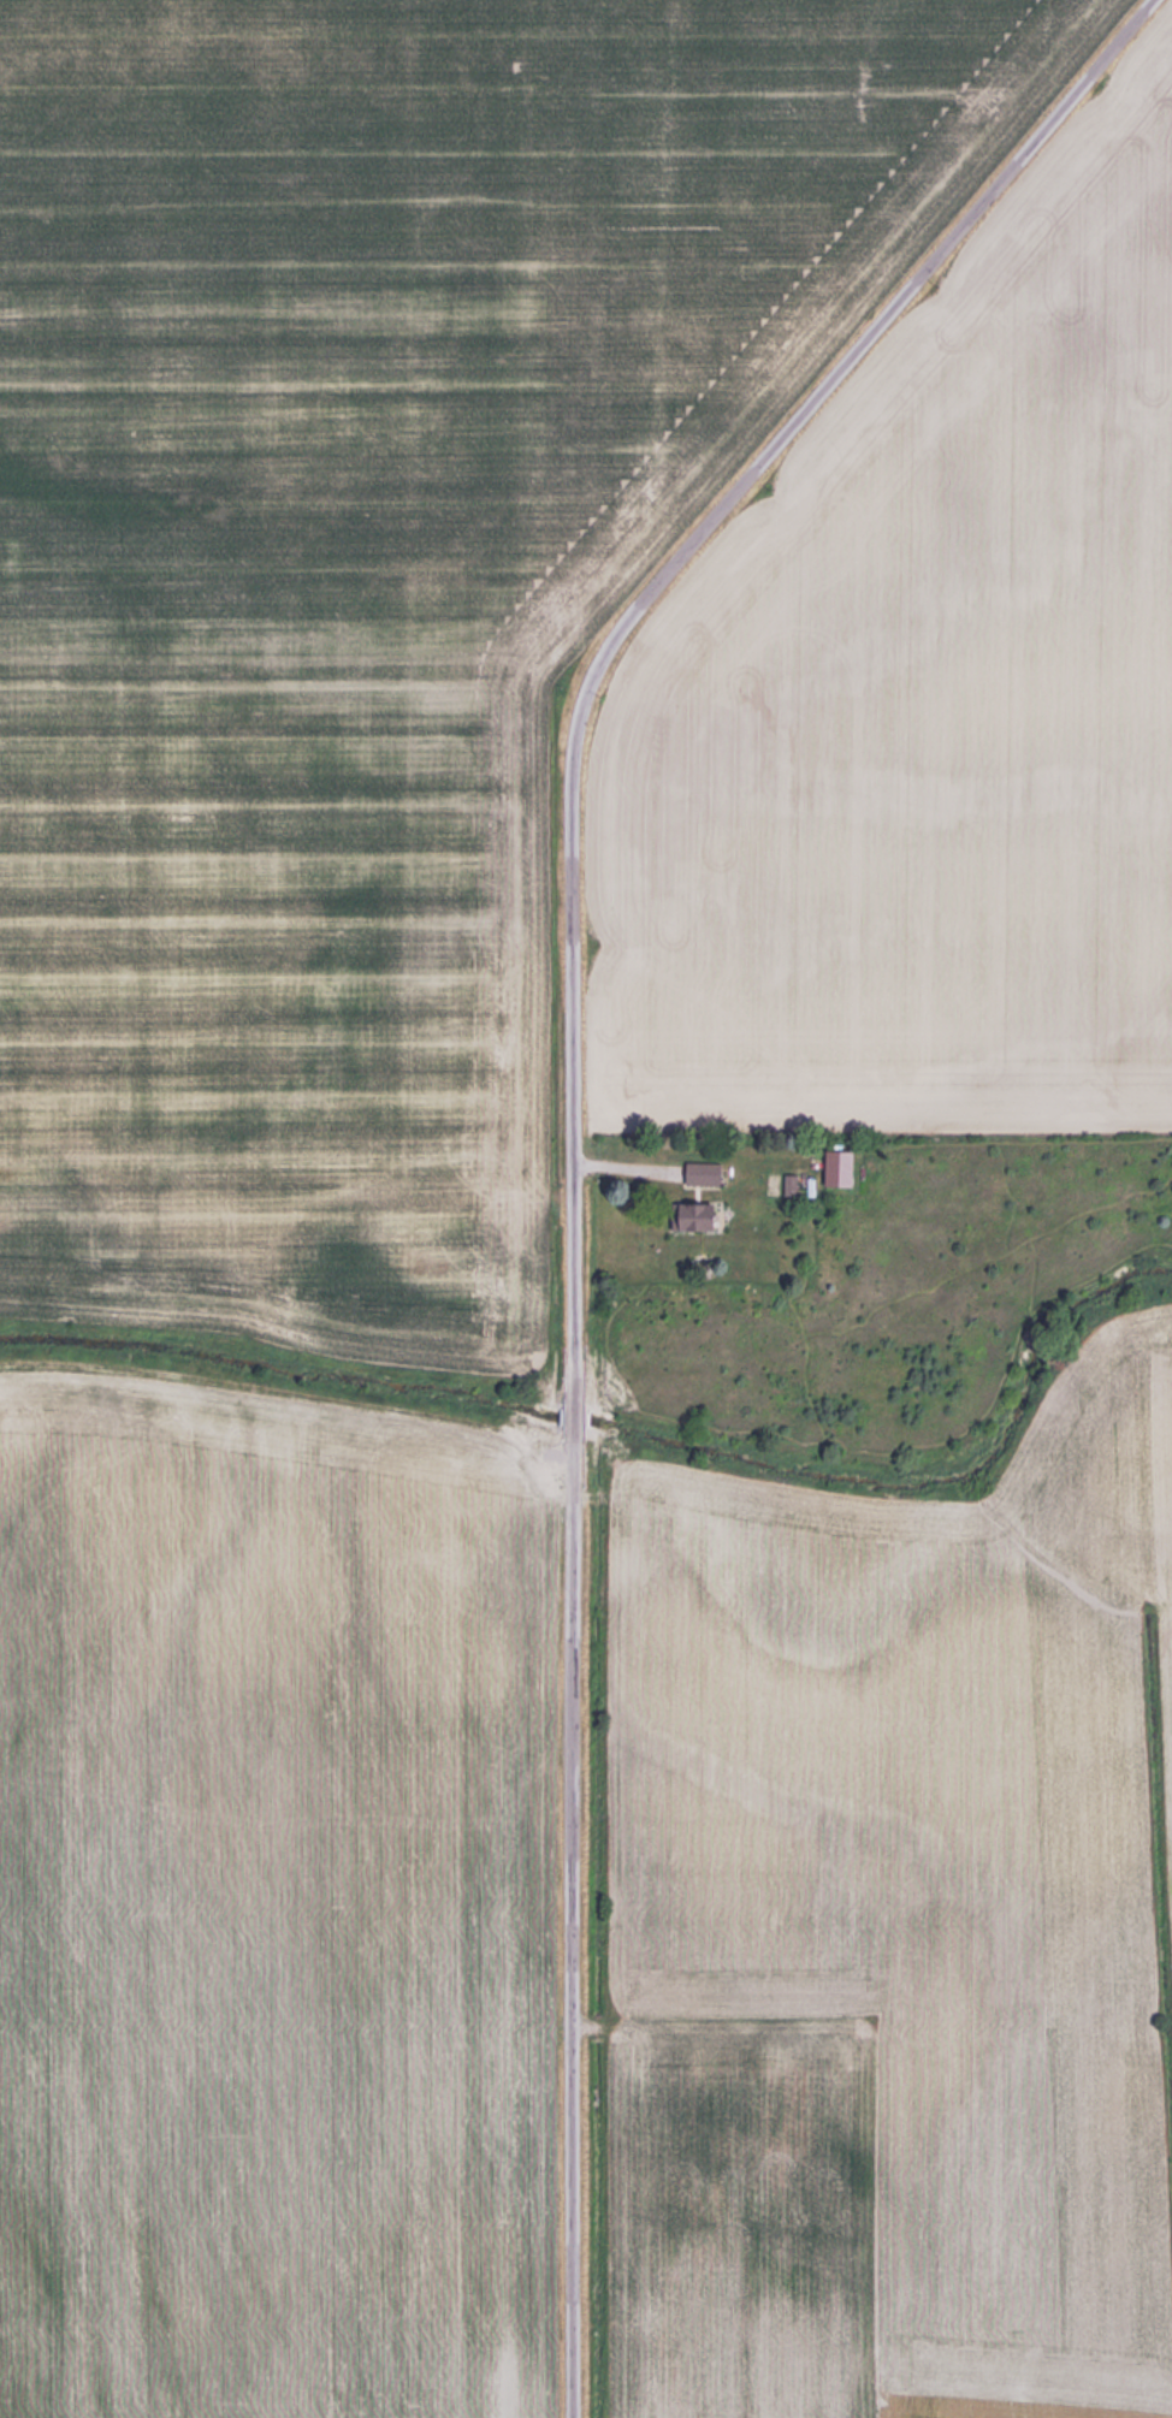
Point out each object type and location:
road: (574, 1106)
building: (699, 1173)
building: (788, 1183)
building: (686, 1215)

